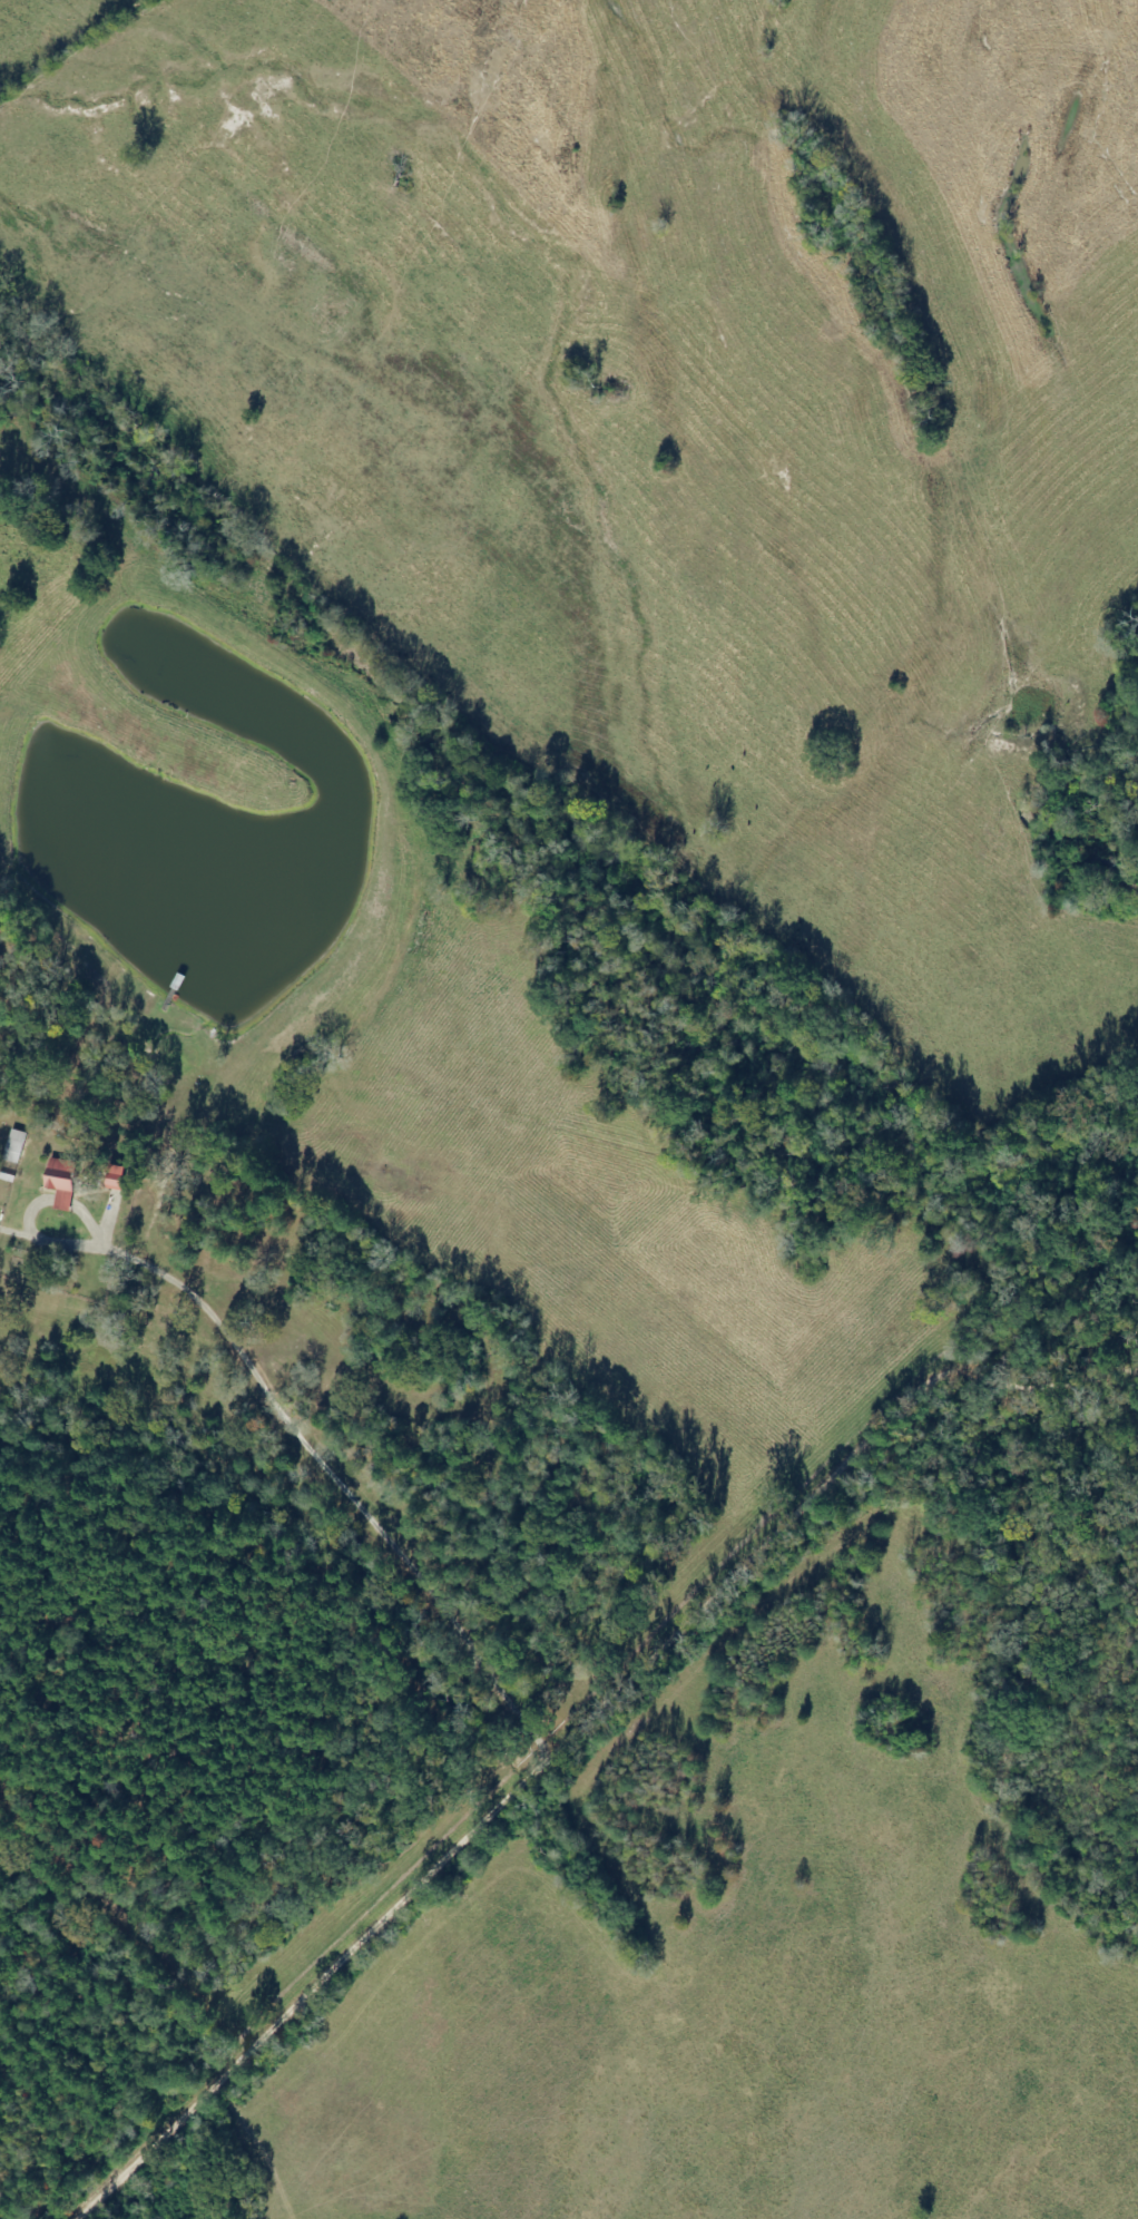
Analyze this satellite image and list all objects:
building: (16, 1148)
building: (118, 1179)
building: (62, 1182)
road: (1000, 1384)
road: (242, 1741)
road: (458, 1824)

